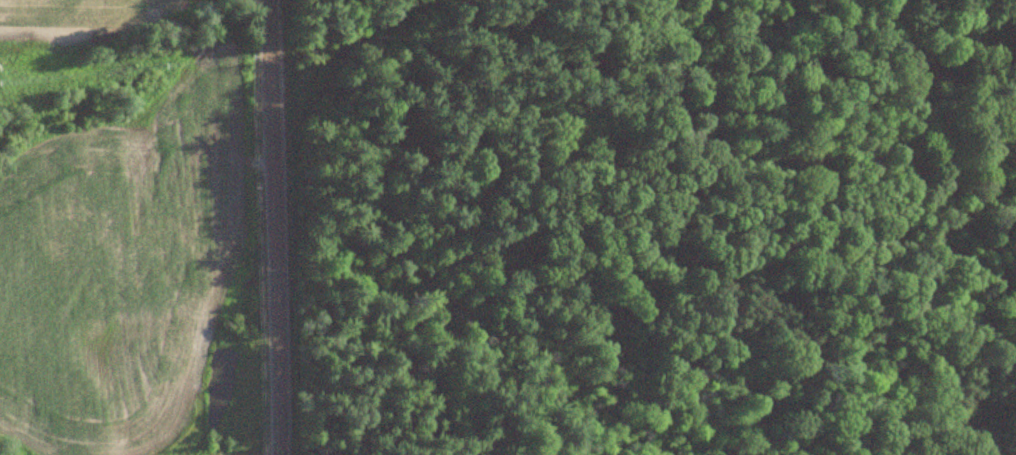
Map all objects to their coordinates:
road: (266, 227)

